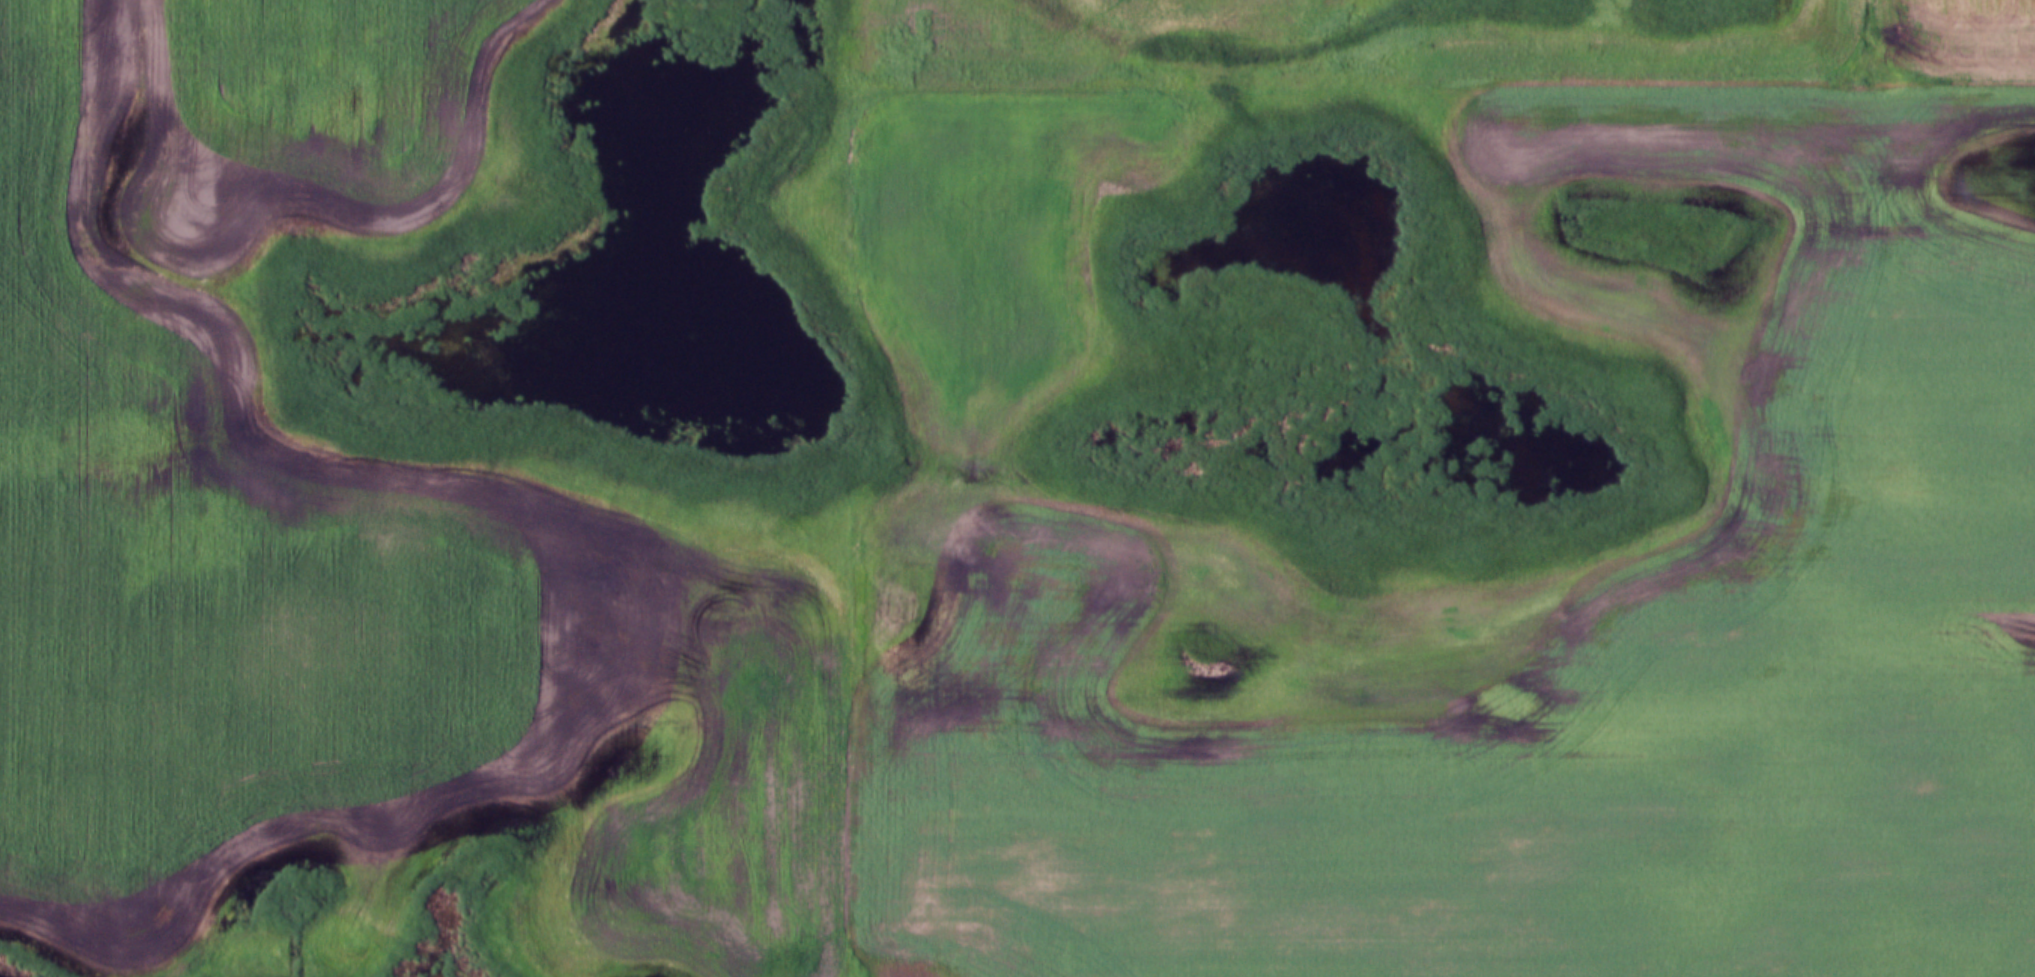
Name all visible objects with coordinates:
building: (1627, 904)

